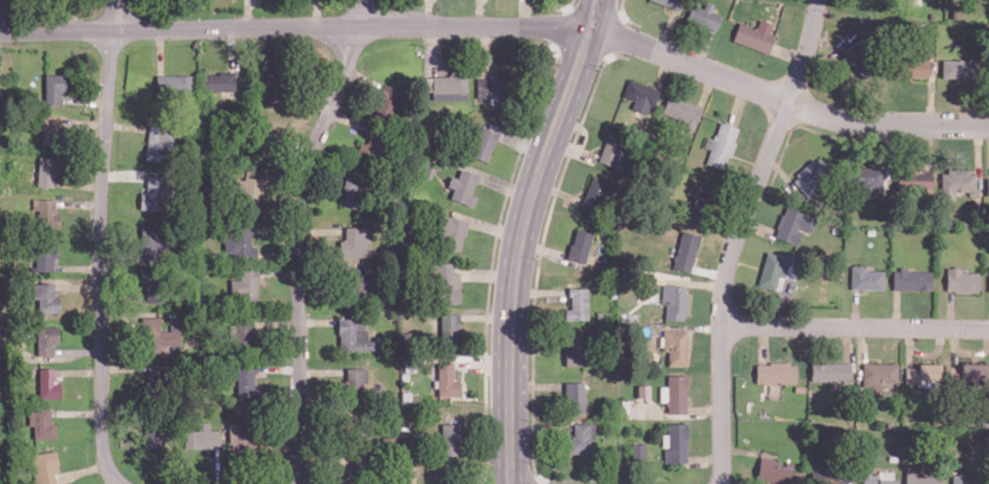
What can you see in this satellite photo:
building: (673, 3)
road: (316, 12)
road: (426, 12)
road: (524, 12)
road: (247, 13)
road: (592, 14)
building: (705, 15)
road: (294, 25)
road: (666, 30)
building: (754, 36)
street lamp: (199, 44)
street lamp: (323, 45)
street lamp: (422, 45)
street lamp: (90, 47)
road: (704, 47)
road: (231, 48)
road: (159, 49)
street lamp: (714, 57)
building: (861, 58)
building: (911, 66)
street lamp: (599, 67)
building: (962, 67)
road: (662, 70)
building: (220, 81)
building: (175, 84)
building: (276, 85)
building: (450, 86)
building: (55, 87)
building: (494, 87)
road: (706, 88)
road: (930, 92)
building: (641, 95)
road: (84, 100)
road: (784, 100)
building: (386, 101)
road: (971, 103)
road: (738, 104)
road: (586, 109)
street lamp: (887, 109)
building: (682, 111)
street lamp: (97, 115)
road: (347, 120)
road: (83, 122)
street lamp: (312, 124)
road: (127, 126)
road: (580, 128)
building: (52, 129)
street lamp: (765, 129)
building: (160, 142)
building: (258, 142)
building: (484, 143)
road: (521, 143)
building: (721, 144)
road: (926, 145)
building: (371, 148)
road: (570, 150)
building: (613, 150)
street lamp: (522, 154)
road: (886, 155)
road: (978, 158)
road: (748, 160)
building: (48, 169)
road: (123, 175)
road: (784, 176)
building: (812, 176)
building: (867, 177)
building: (915, 179)
building: (958, 182)
road: (77, 184)
building: (463, 186)
building: (988, 186)
building: (356, 190)
building: (249, 191)
building: (596, 193)
building: (154, 194)
road: (78, 203)
building: (701, 203)
building: (47, 214)
building: (794, 224)
road: (757, 225)
road: (277, 229)
building: (452, 231)
road: (299, 236)
road: (735, 236)
building: (151, 240)
building: (239, 240)
road: (101, 243)
building: (352, 244)
building: (579, 245)
building: (686, 250)
road: (517, 251)
building: (45, 253)
road: (743, 262)
road: (79, 267)
building: (773, 269)
road: (280, 271)
road: (707, 271)
street lamp: (91, 277)
building: (867, 277)
street lamp: (712, 278)
building: (912, 279)
building: (962, 279)
building: (358, 281)
building: (446, 282)
road: (692, 282)
building: (154, 283)
building: (246, 284)
road: (79, 287)
road: (861, 292)
building: (46, 300)
building: (674, 300)
road: (781, 301)
building: (577, 303)
road: (855, 307)
road: (897, 308)
street lamp: (837, 314)
street lamp: (985, 316)
road: (318, 321)
road: (697, 326)
road: (854, 326)
building: (449, 327)
building: (151, 333)
building: (354, 334)
building: (243, 335)
building: (47, 340)
road: (846, 342)
road: (763, 343)
building: (675, 346)
road: (910, 346)
building: (579, 350)
road: (860, 352)
road: (935, 352)
road: (967, 352)
road: (870, 357)
road: (125, 368)
building: (832, 370)
road: (322, 371)
building: (970, 371)
road: (79, 372)
building: (925, 373)
building: (879, 374)
building: (775, 375)
building: (447, 379)
building: (248, 380)
building: (356, 382)
building: (156, 383)
building: (49, 384)
building: (677, 393)
building: (575, 396)
road: (76, 413)
building: (42, 423)
building: (246, 432)
building: (157, 434)
building: (203, 437)
building: (452, 437)
building: (582, 437)
street lamp: (93, 440)
building: (357, 440)
building: (676, 441)
building: (400, 445)
building: (637, 451)
building: (45, 467)
building: (774, 470)
road: (82, 471)
road: (413, 472)
building: (829, 476)
building: (879, 476)
building: (922, 478)
building: (968, 479)
road: (113, 482)
road: (771, 483)

